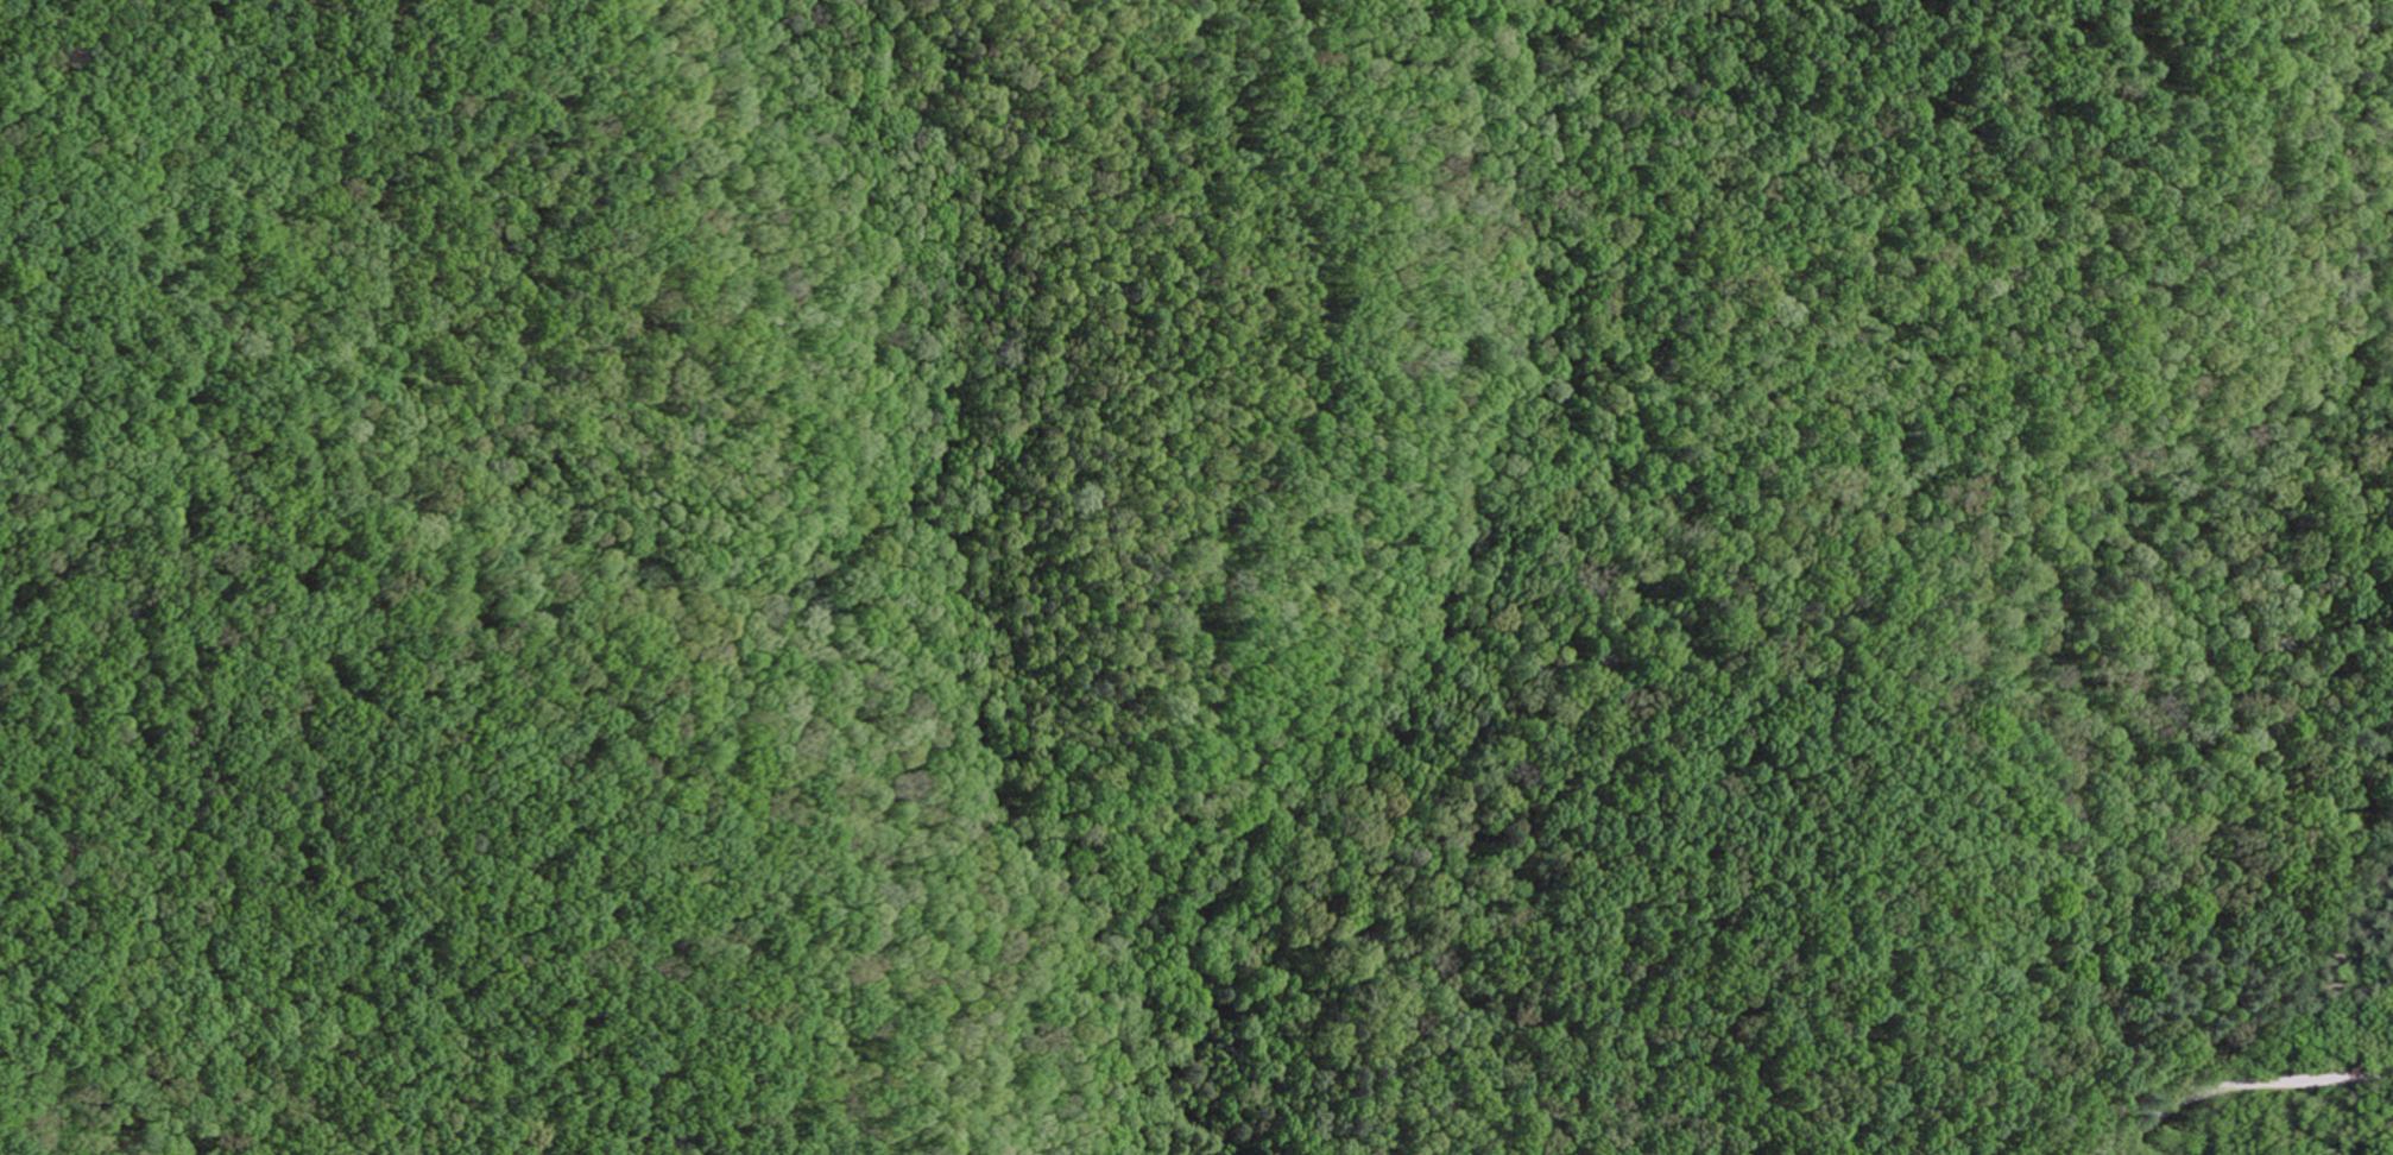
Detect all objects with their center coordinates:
road: (2242, 1085)

